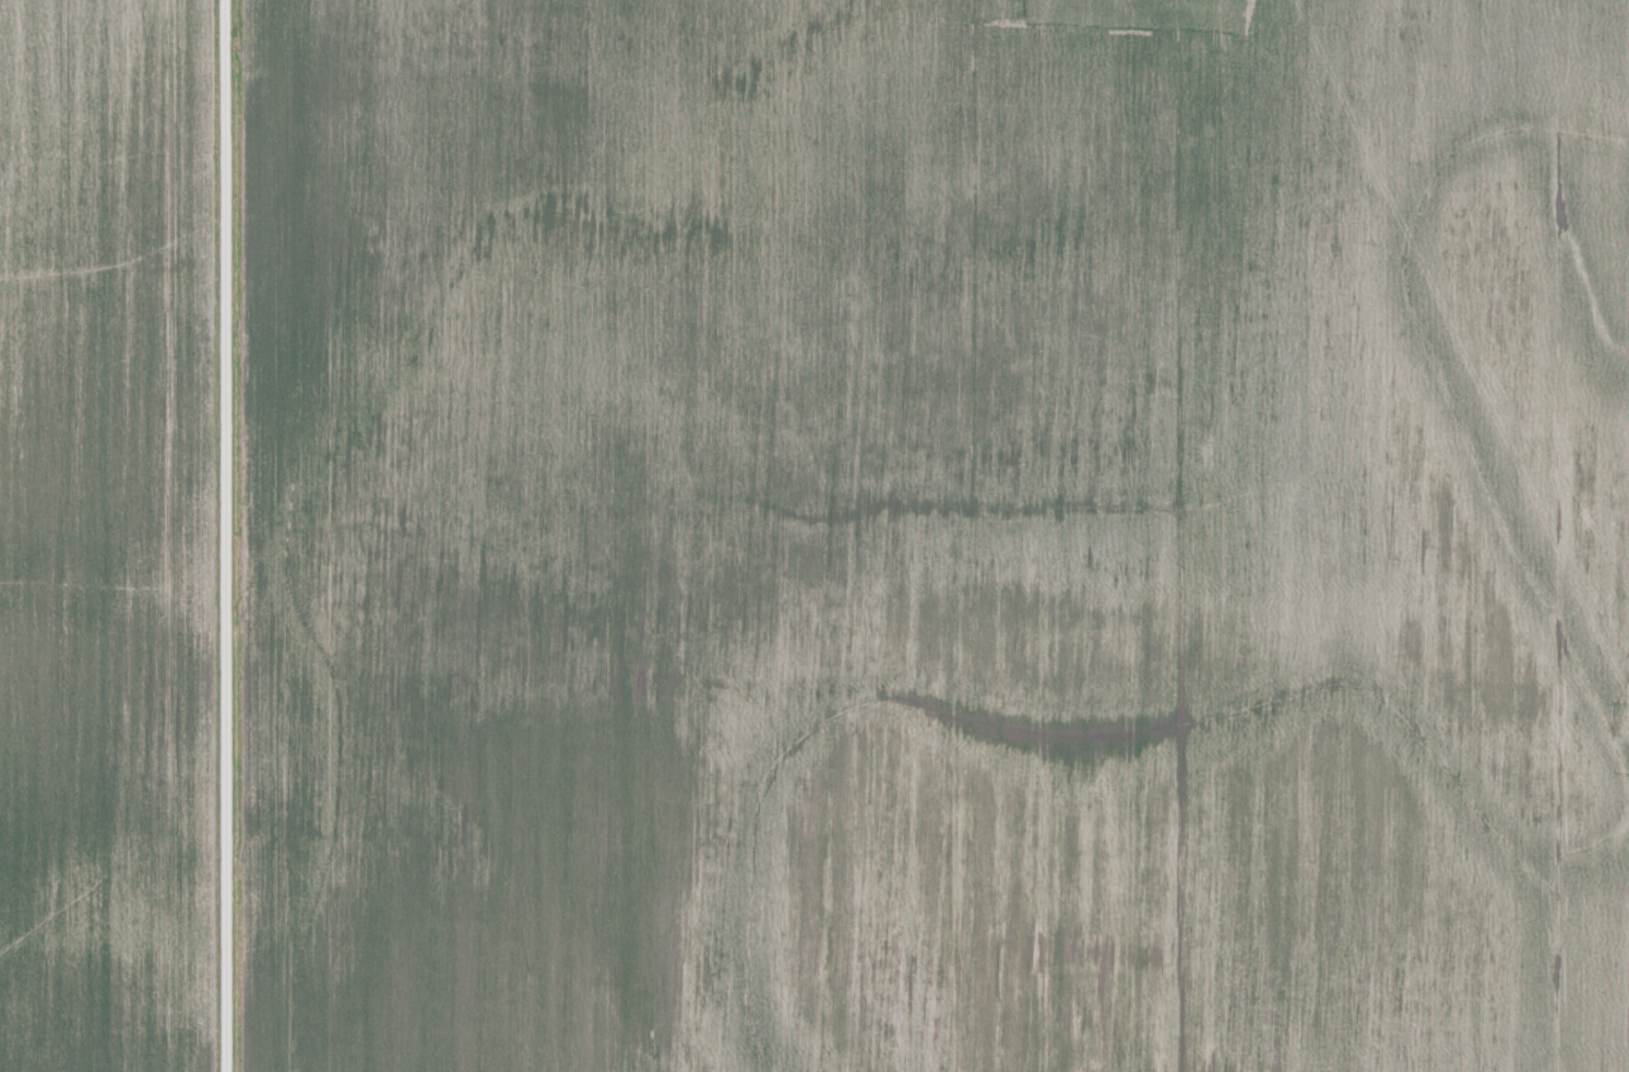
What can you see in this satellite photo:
road: (185, 536)

